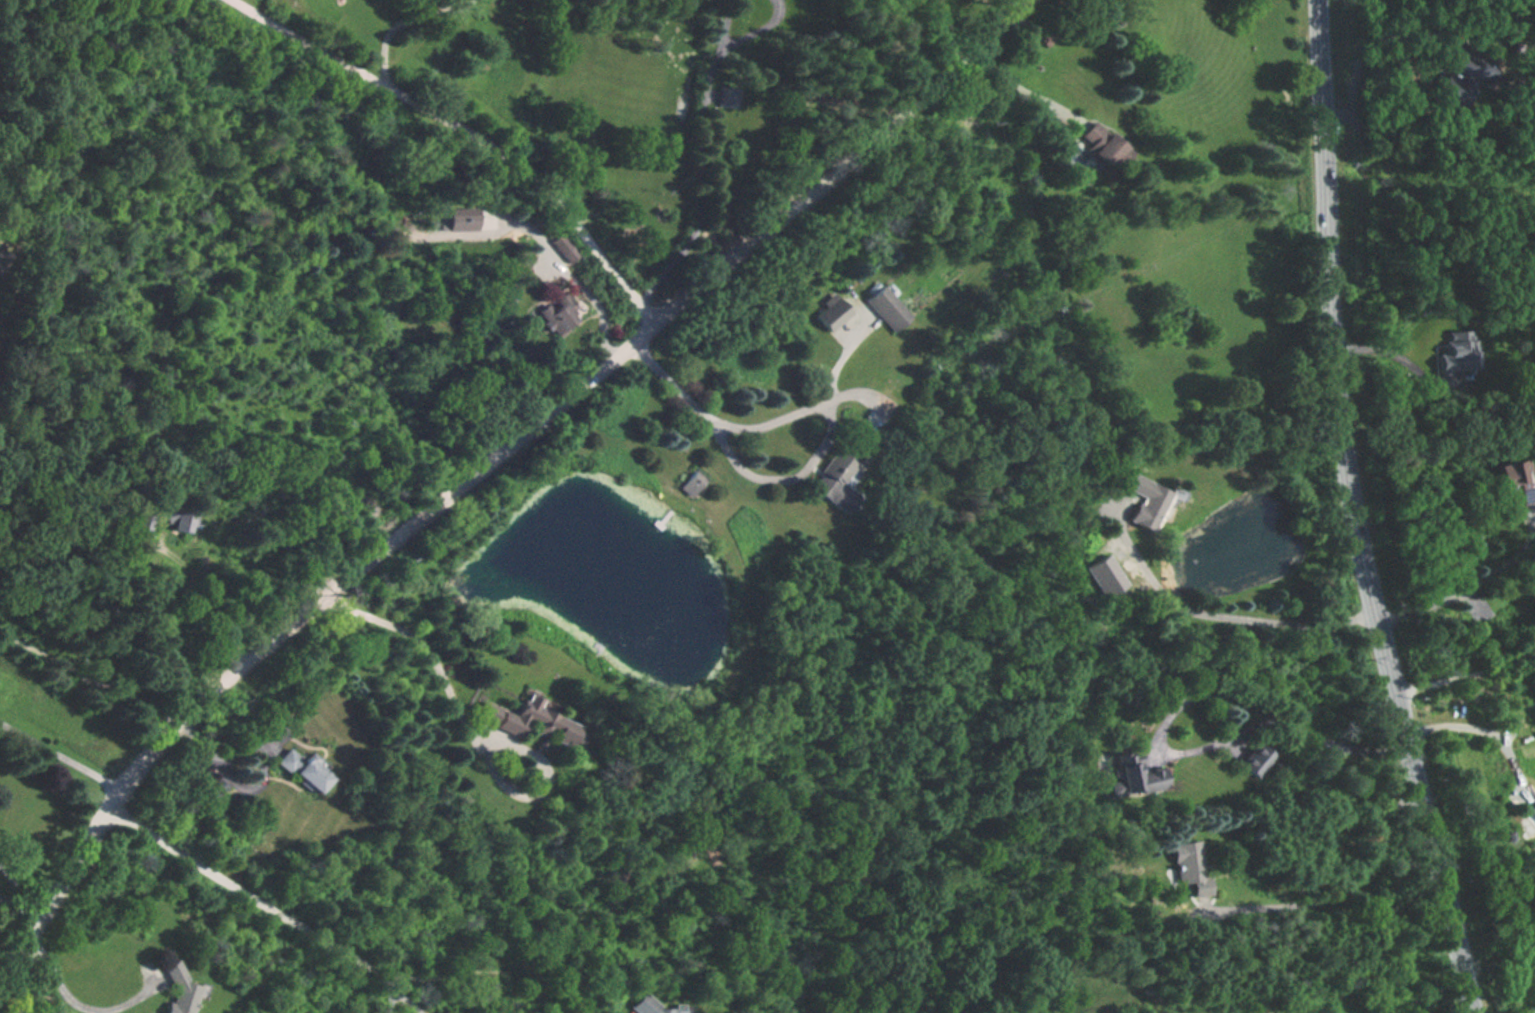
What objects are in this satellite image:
road: (426, 3)
road: (446, 5)
road: (387, 39)
road: (1364, 55)
road: (1023, 82)
road: (466, 131)
building: (1098, 145)
road: (708, 170)
road: (558, 252)
building: (888, 308)
building: (834, 315)
building: (553, 317)
road: (1384, 352)
road: (748, 428)
road: (482, 465)
building: (1514, 476)
road: (779, 480)
building: (833, 481)
building: (692, 484)
building: (1148, 503)
road: (1354, 512)
road: (1472, 589)
road: (1223, 612)
road: (87, 677)
road: (1465, 678)
building: (530, 722)
road: (473, 728)
road: (1476, 730)
road: (1217, 755)
road: (60, 758)
building: (1256, 759)
building: (305, 771)
building: (1133, 776)
road: (252, 779)
building: (1188, 861)
road: (249, 894)
road: (1346, 901)
road: (482, 972)
road: (392, 985)
building: (178, 991)
road: (389, 1001)
road: (408, 1001)
road: (1217, 1001)
road: (76, 1004)
building: (656, 1007)

